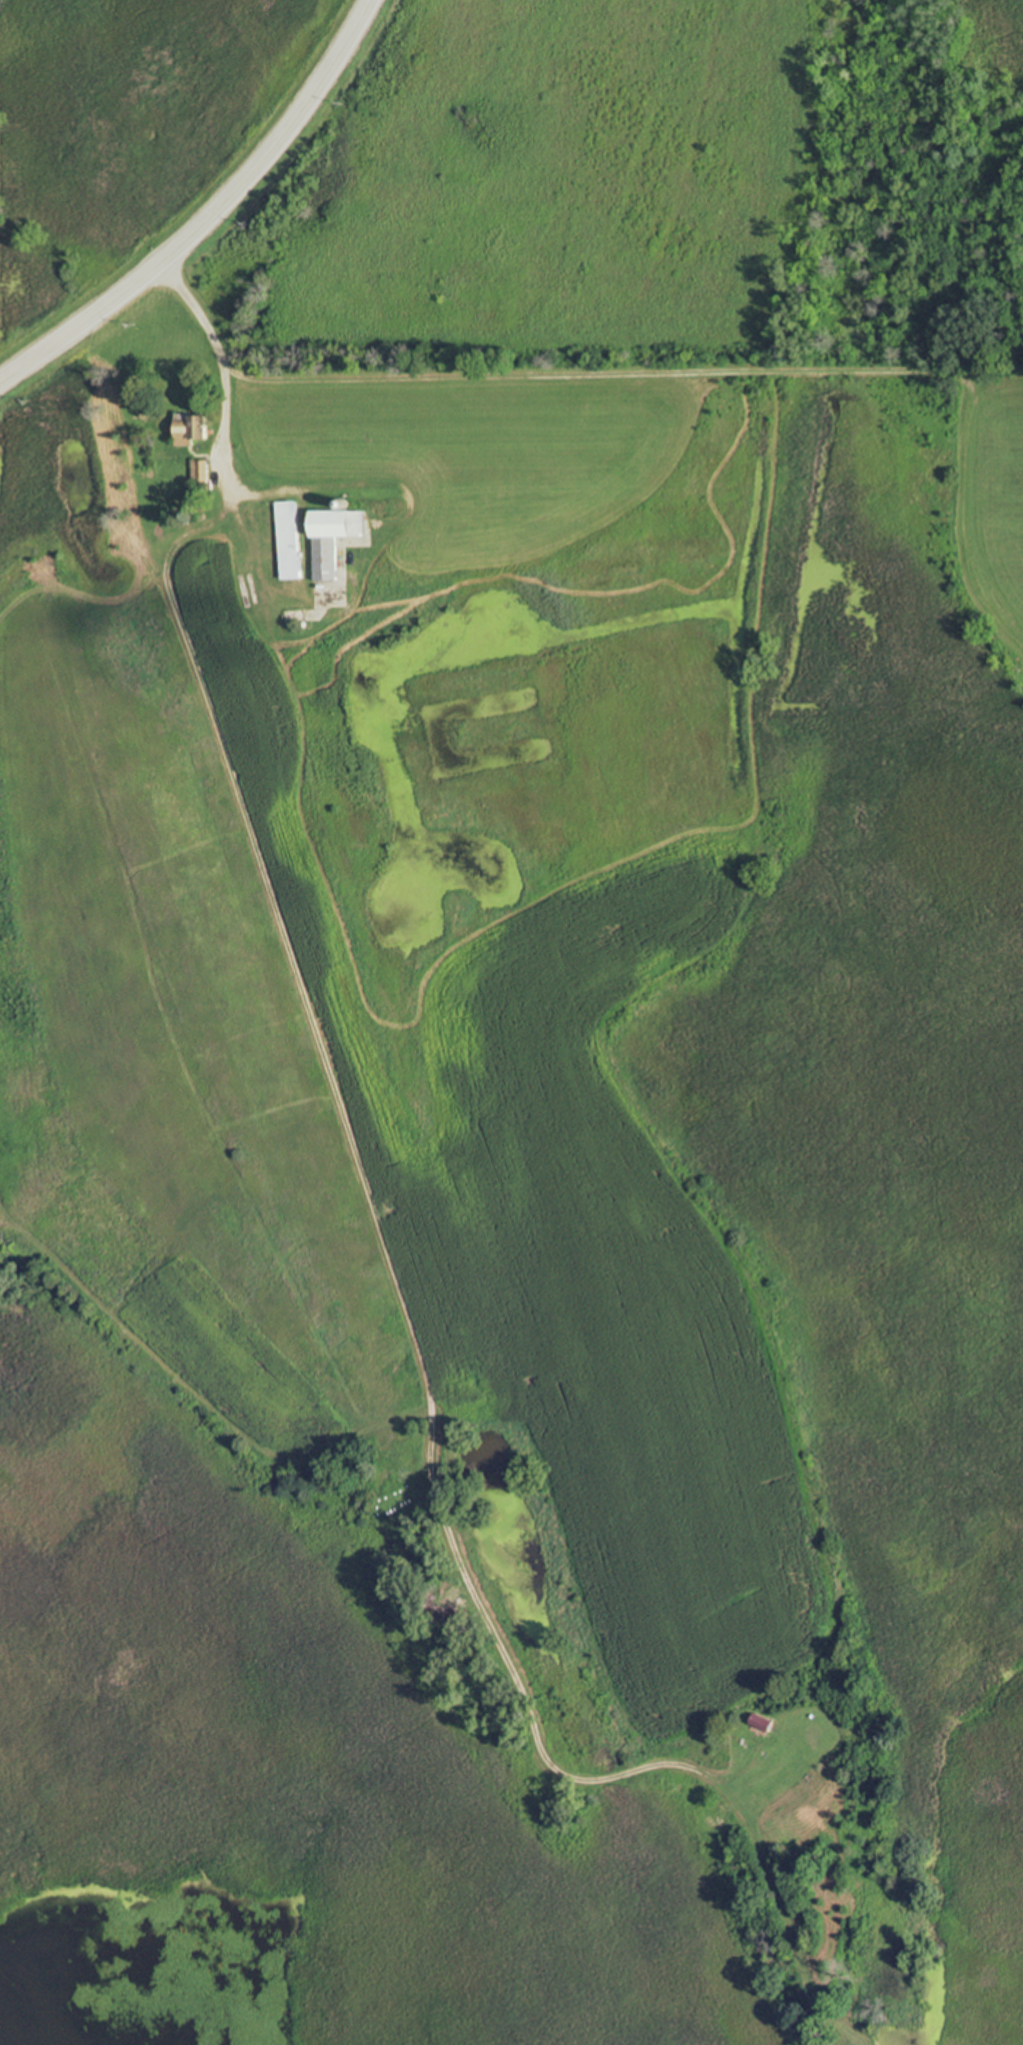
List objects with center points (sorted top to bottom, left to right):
road: (211, 217)
road: (217, 366)
building: (194, 429)
building: (335, 539)
building: (288, 544)

